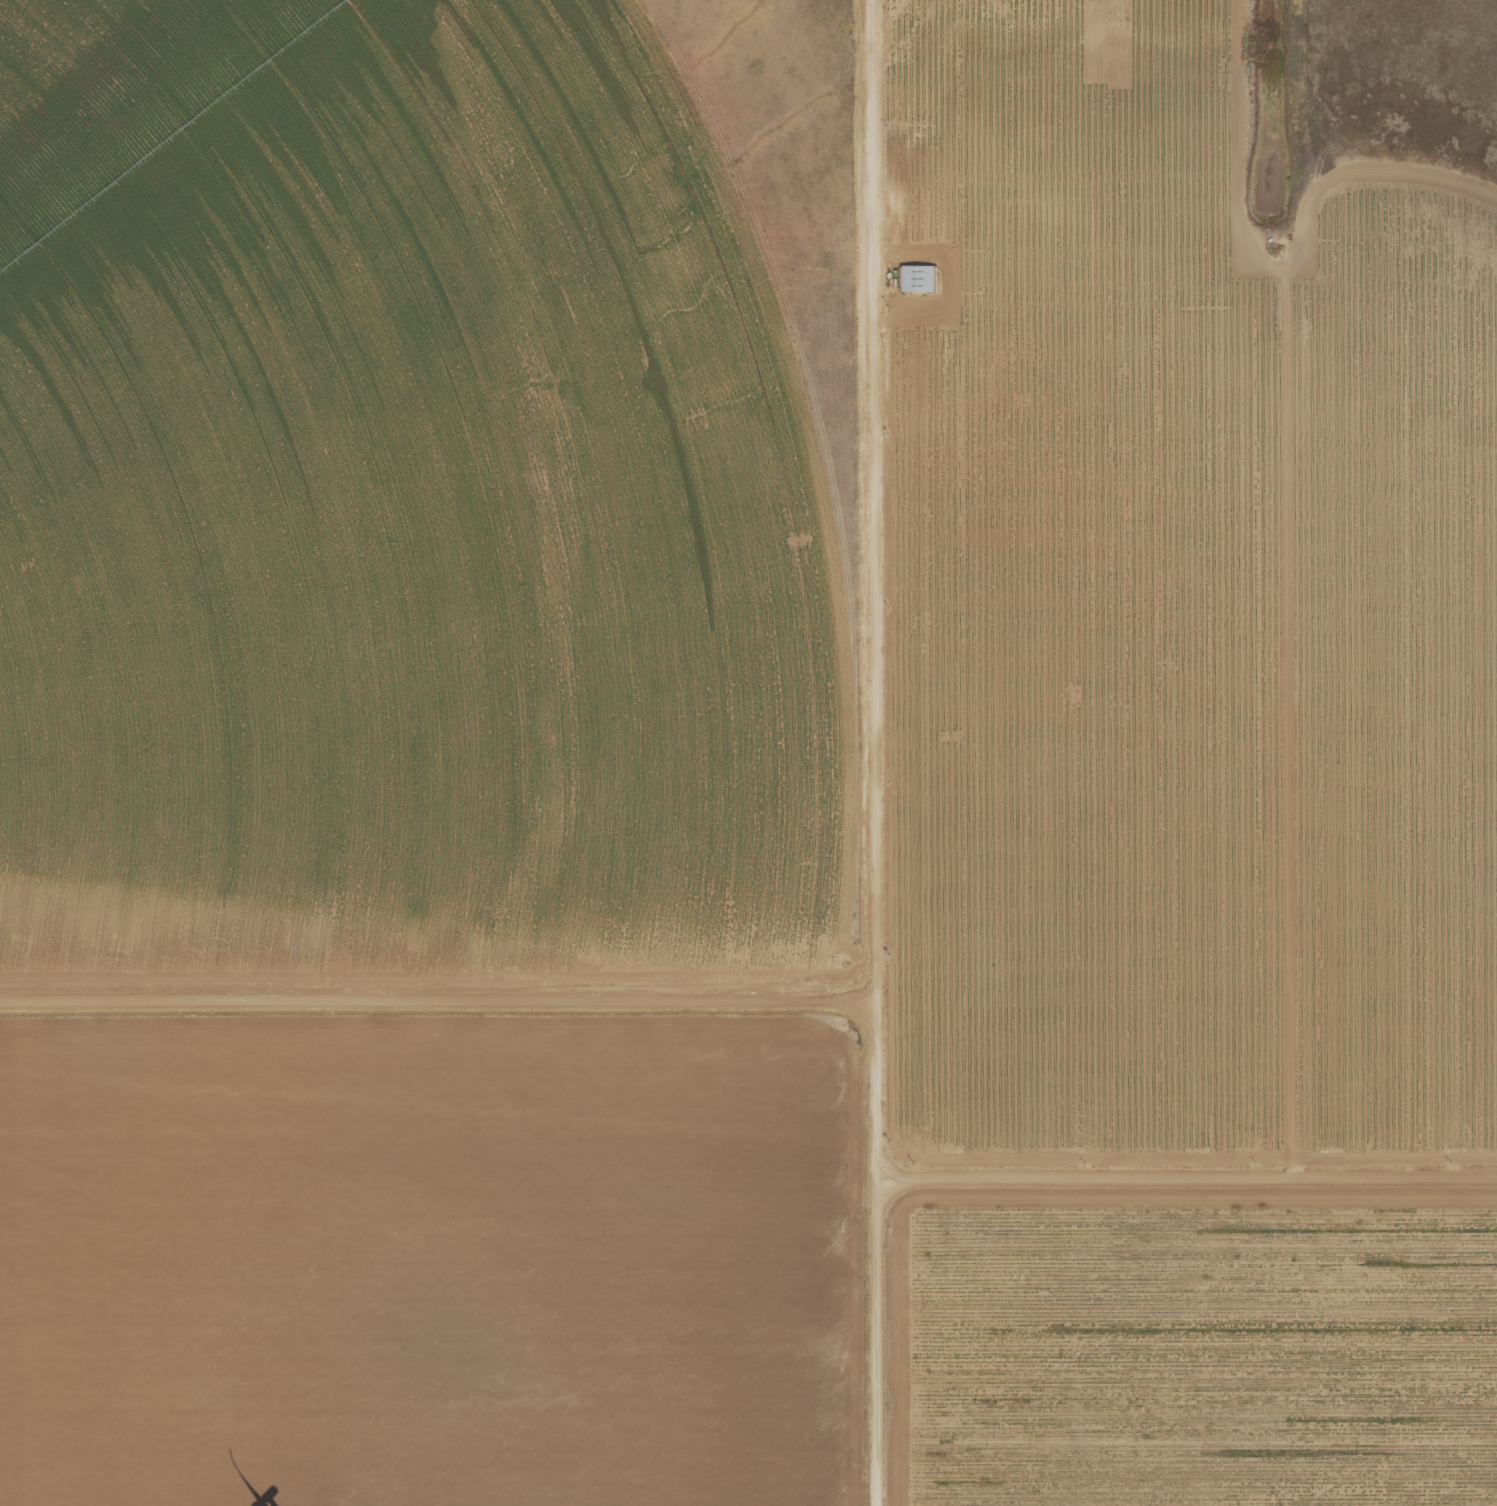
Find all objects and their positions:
road: (1062, 197)
building: (925, 279)
road: (863, 753)
road: (431, 980)
road: (1185, 1181)

